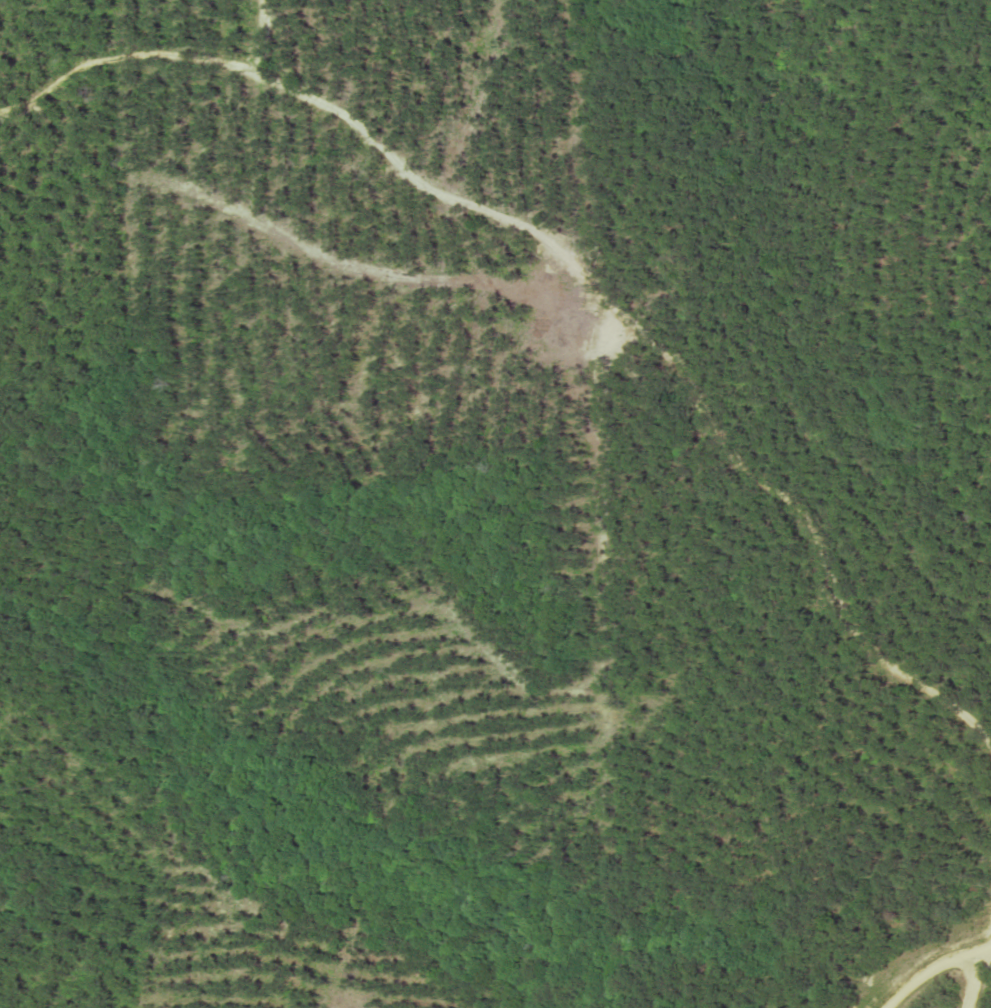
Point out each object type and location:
road: (933, 971)
road: (971, 978)

